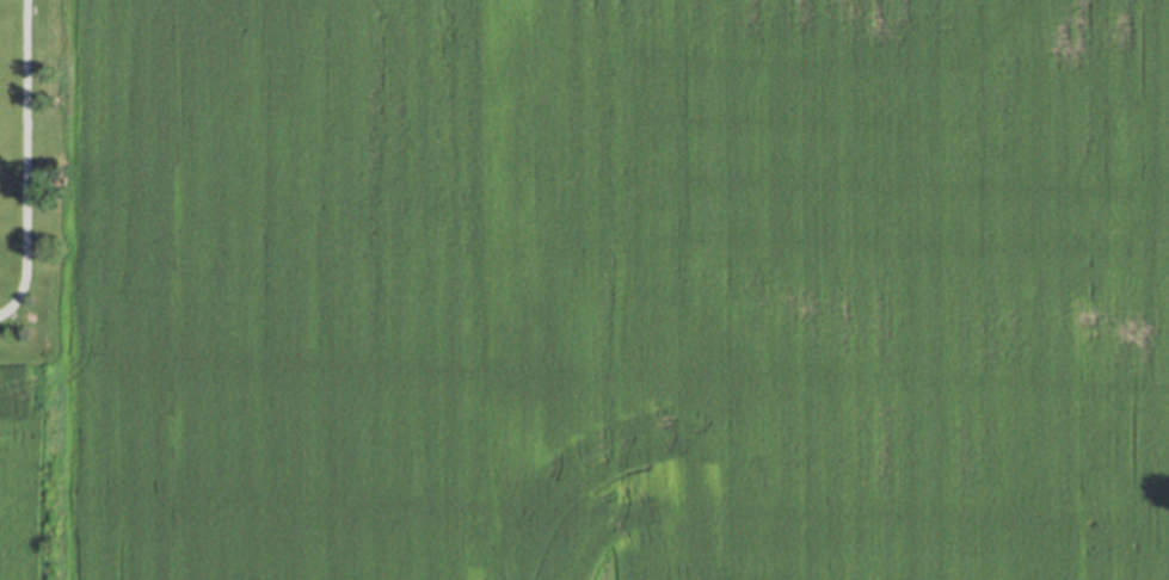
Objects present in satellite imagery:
road: (23, 158)
park: (29, 178)
crop: (629, 290)
crop: (24, 476)

